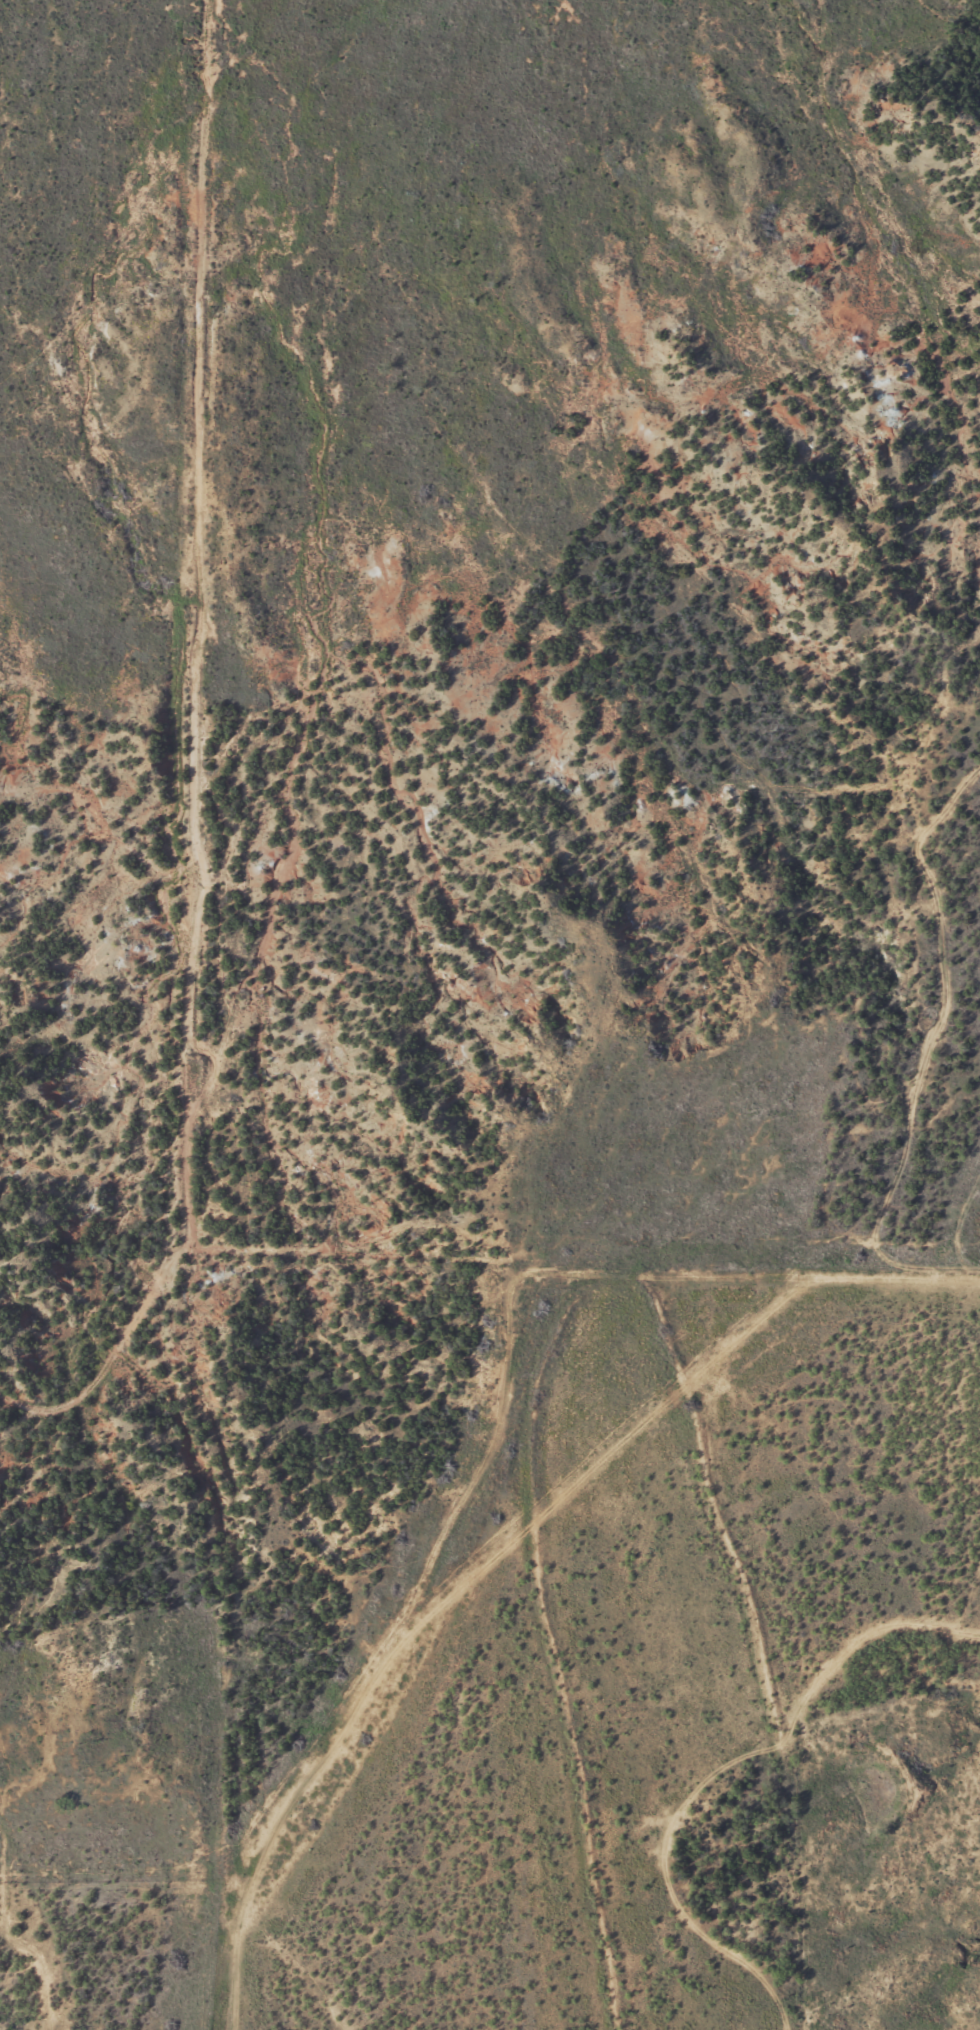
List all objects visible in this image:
road: (166, 735)
road: (460, 1485)
road: (48, 1941)

